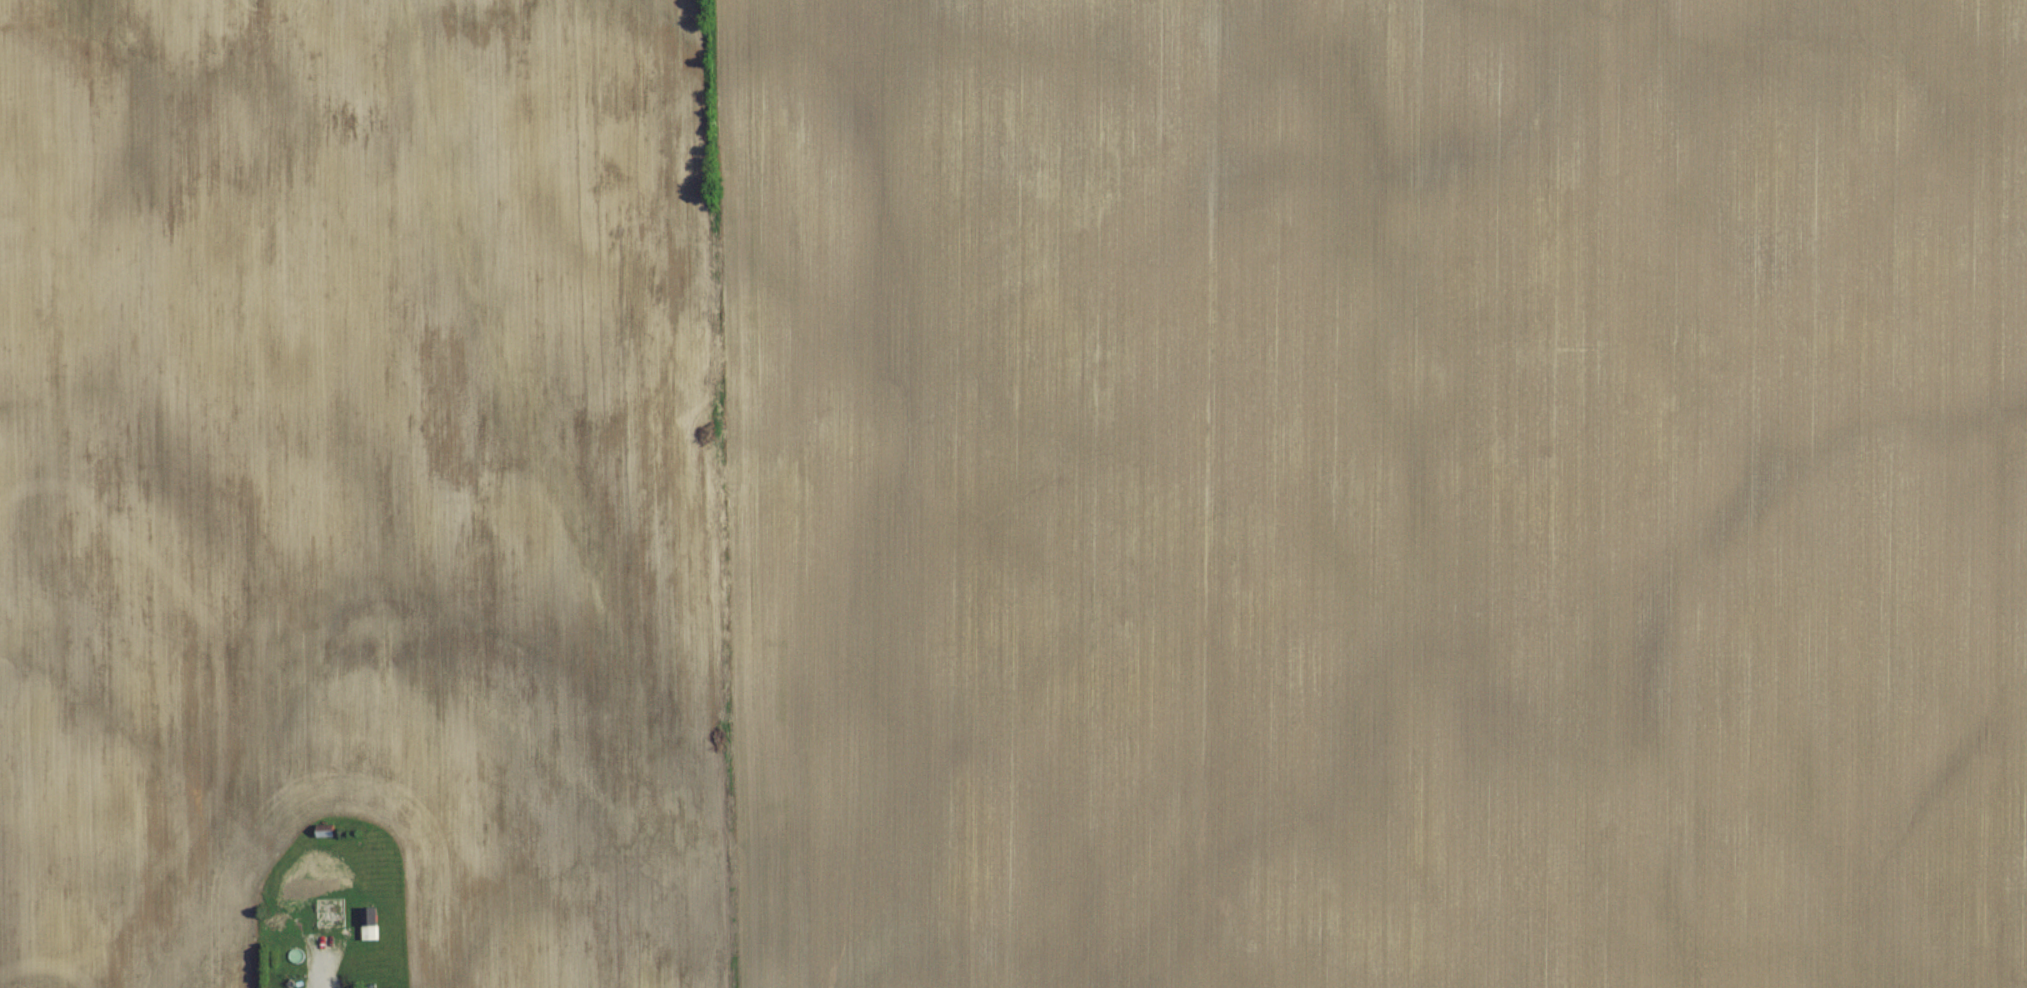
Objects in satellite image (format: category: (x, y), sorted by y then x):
building: (321, 921)

